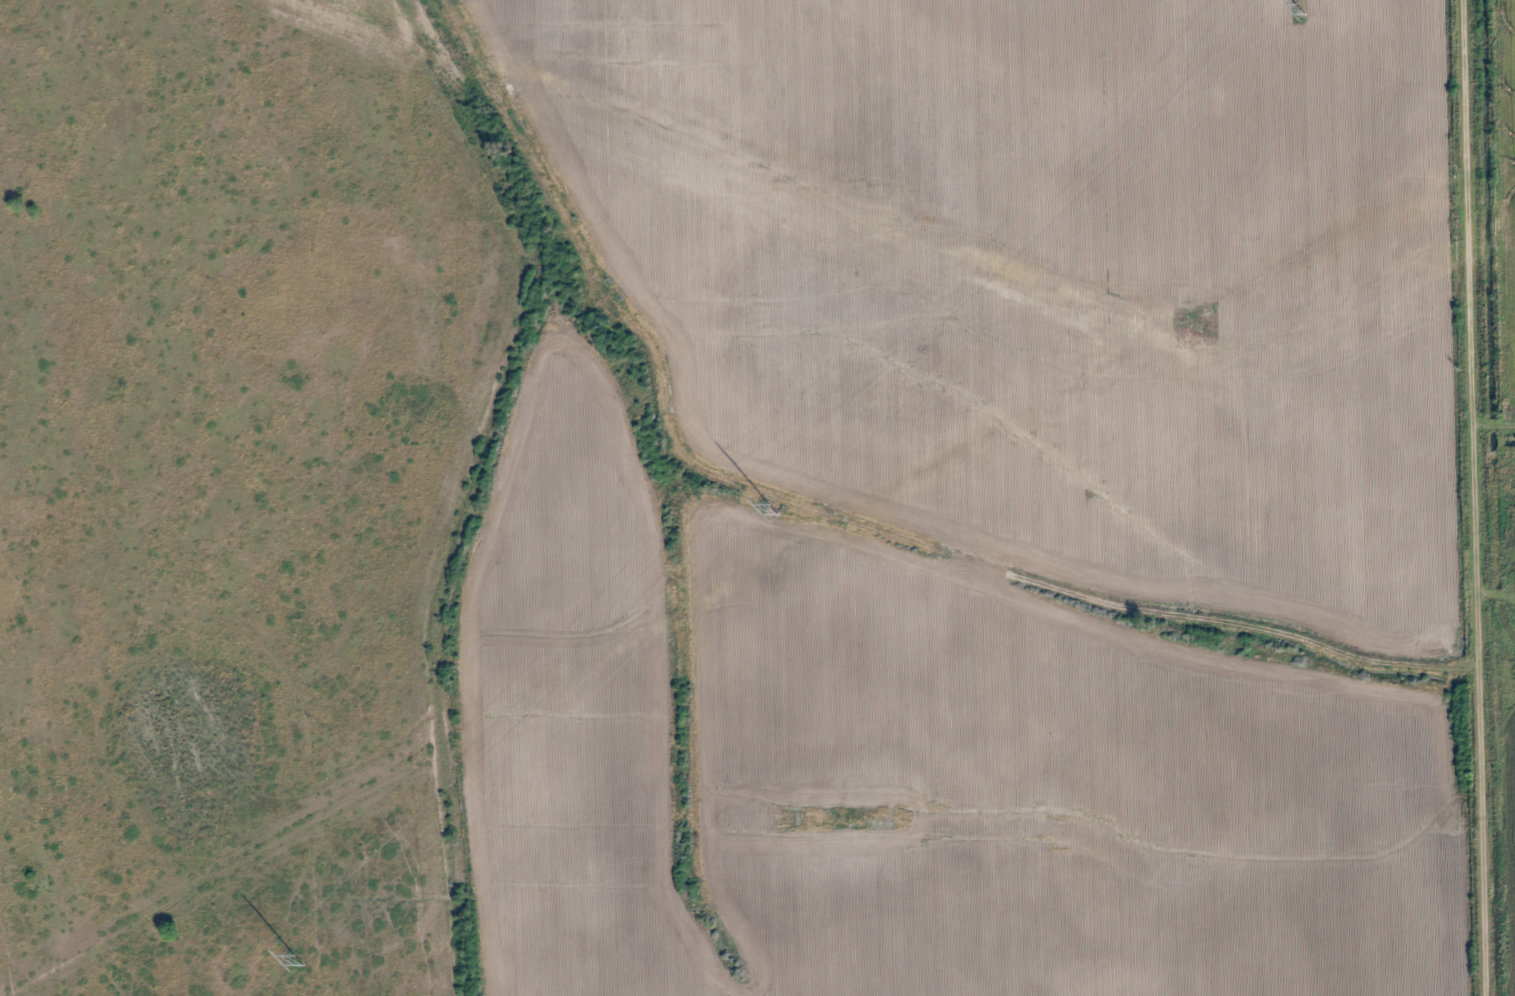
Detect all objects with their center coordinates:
power tower: (1283, 1)
power tower: (784, 512)
power tower: (298, 959)

